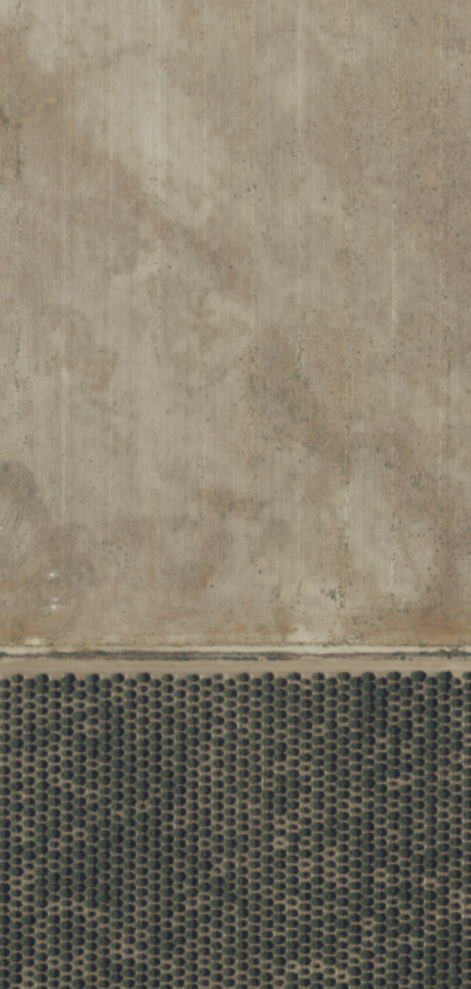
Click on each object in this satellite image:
road: (235, 661)

